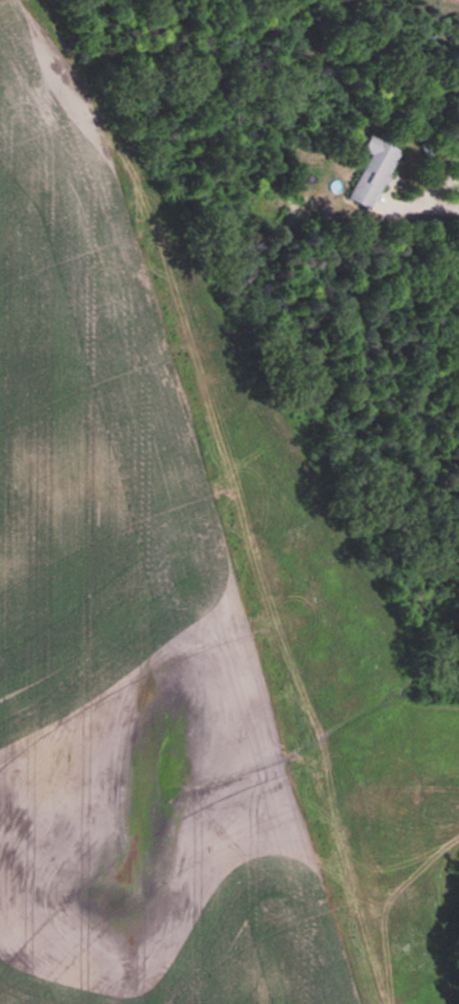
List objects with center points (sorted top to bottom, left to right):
building: (368, 172)
road: (429, 207)

